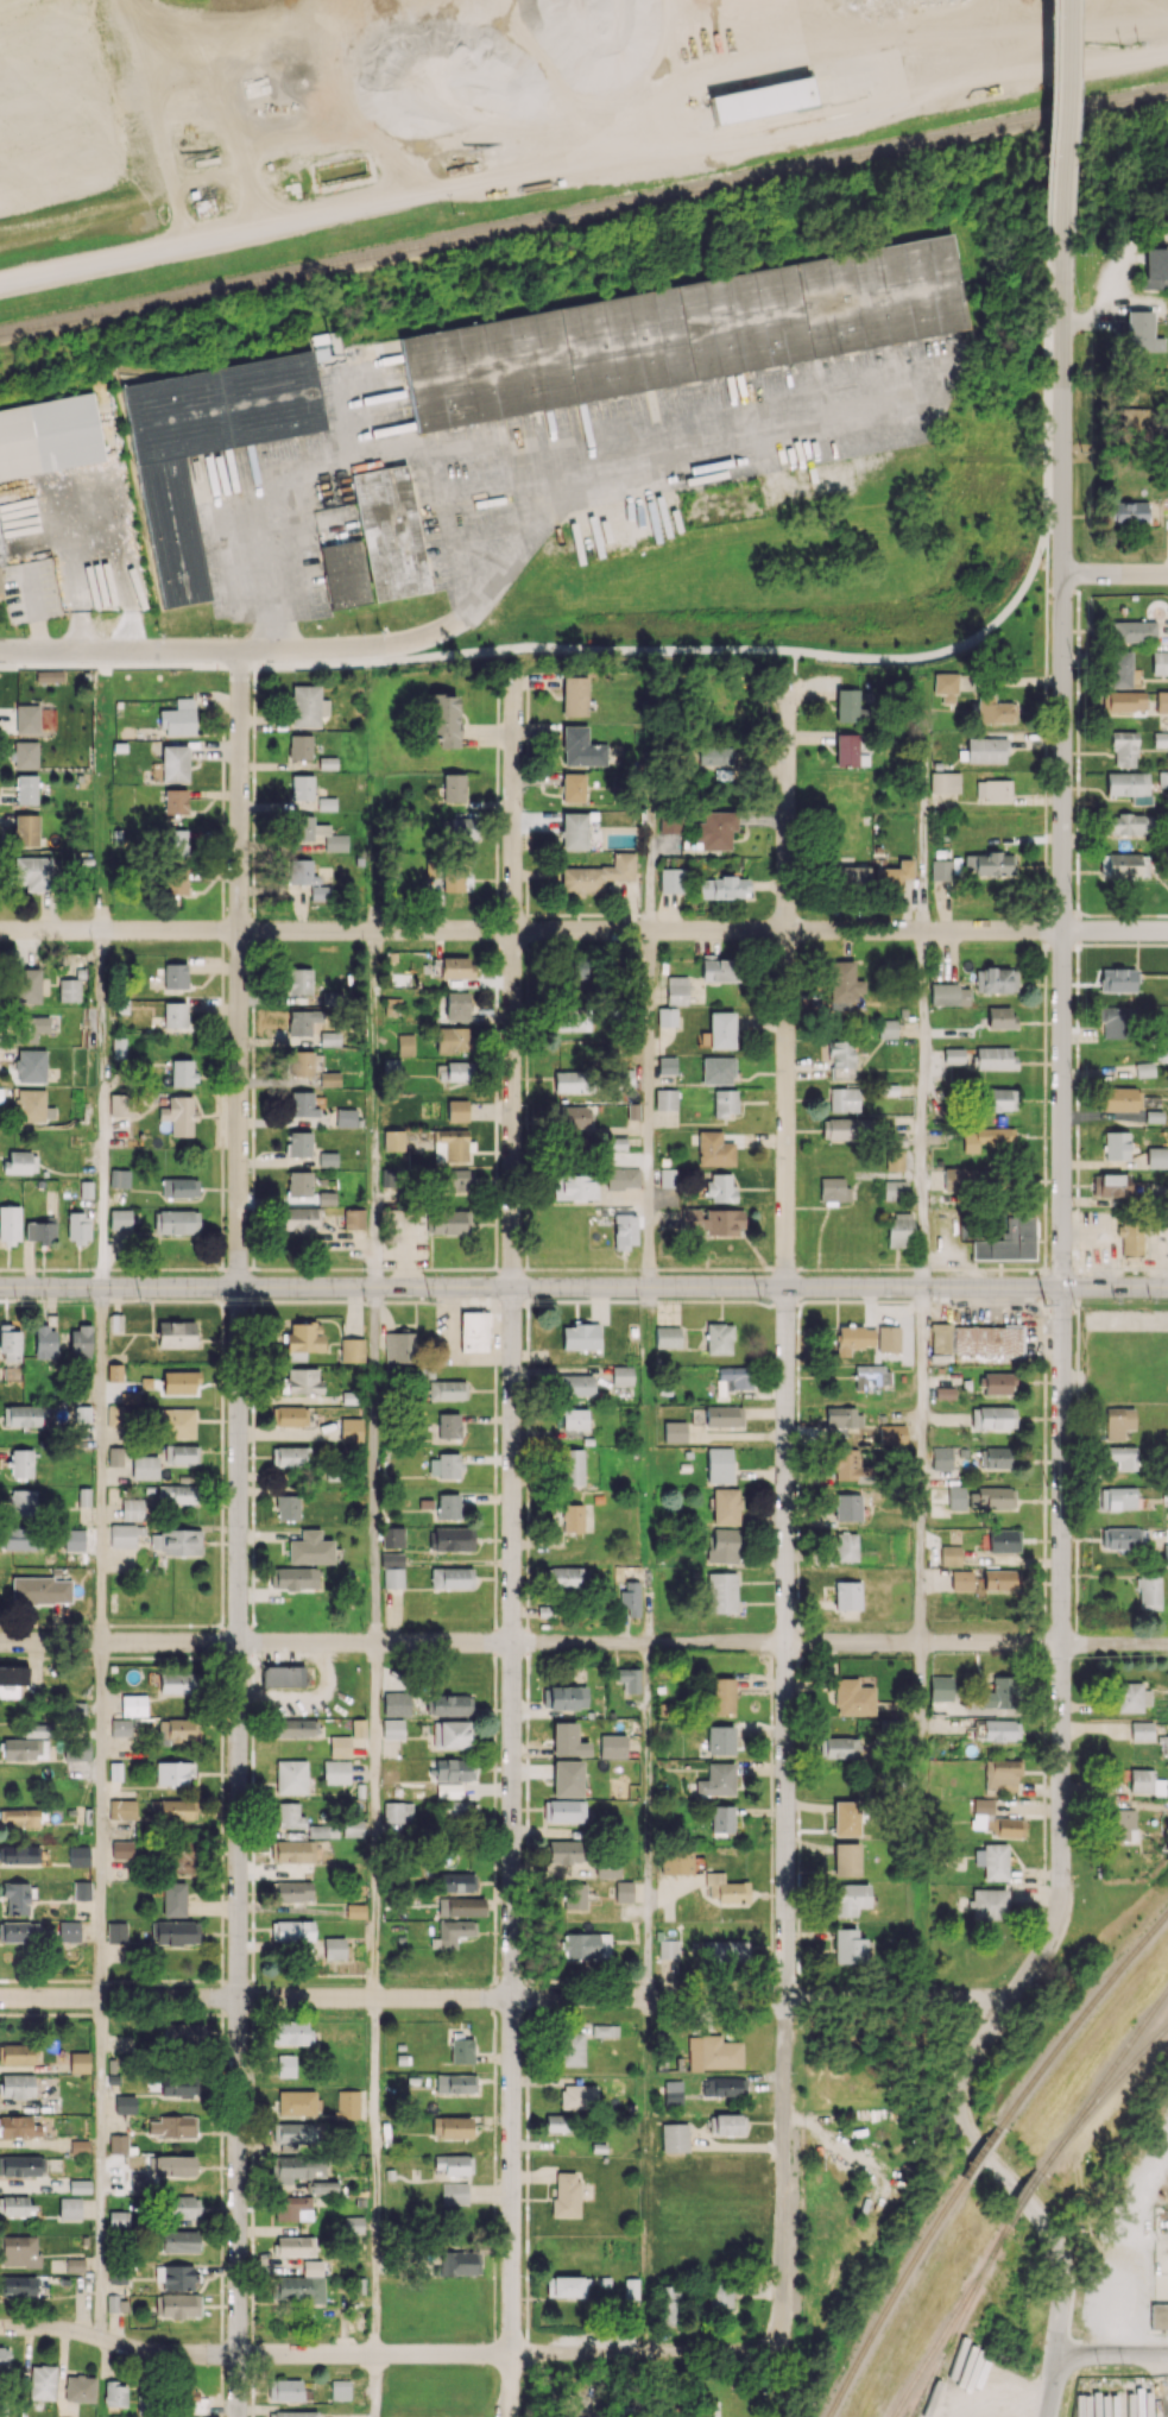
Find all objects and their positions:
building: (1160, 94)
building: (763, 100)
building: (1130, 102)
road: (1062, 119)
road: (1048, 127)
road: (585, 171)
railway: (583, 212)
building: (1155, 269)
building: (1138, 330)
building: (683, 333)
road: (1062, 406)
building: (49, 436)
building: (207, 447)
road: (651, 457)
road: (316, 462)
building: (1130, 512)
building: (377, 543)
road: (1116, 574)
building: (2, 575)
building: (1131, 631)
road: (692, 646)
road: (233, 652)
building: (1158, 662)
building: (1118, 669)
road: (794, 670)
road: (1012, 680)
building: (945, 687)
building: (574, 695)
building: (1125, 701)
building: (1161, 701)
building: (847, 705)
building: (307, 706)
building: (996, 711)
building: (178, 718)
building: (26, 719)
building: (444, 719)
road: (1044, 732)
building: (1160, 739)
building: (299, 746)
building: (581, 749)
building: (1123, 749)
building: (985, 750)
building: (848, 751)
building: (25, 755)
building: (715, 756)
building: (175, 763)
building: (328, 763)
building: (1162, 780)
building: (945, 782)
building: (1129, 785)
building: (302, 787)
building: (573, 787)
building: (454, 788)
building: (25, 789)
road: (102, 790)
building: (993, 790)
building: (175, 801)
building: (327, 803)
building: (669, 822)
road: (923, 822)
building: (1124, 823)
building: (460, 828)
building: (25, 829)
building: (715, 829)
building: (574, 831)
building: (317, 833)
building: (175, 843)
building: (989, 865)
building: (1123, 865)
building: (942, 870)
building: (32, 873)
building: (447, 875)
building: (596, 875)
building: (894, 875)
road: (649, 876)
building: (848, 877)
building: (307, 878)
building: (670, 879)
building: (175, 882)
building: (722, 888)
road: (583, 929)
road: (1062, 929)
building: (456, 967)
building: (575, 968)
building: (719, 970)
building: (175, 976)
building: (995, 979)
building: (1117, 979)
building: (299, 980)
building: (26, 985)
building: (844, 986)
building: (69, 990)
building: (676, 990)
building: (948, 995)
building: (332, 998)
building: (456, 1005)
building: (175, 1014)
building: (667, 1016)
building: (999, 1017)
building: (570, 1020)
building: (302, 1021)
building: (1112, 1021)
building: (29, 1028)
building: (886, 1028)
building: (721, 1029)
building: (329, 1039)
building: (453, 1040)
building: (405, 1043)
building: (118, 1047)
building: (1162, 1054)
building: (953, 1055)
building: (995, 1058)
building: (841, 1059)
building: (301, 1062)
building: (667, 1065)
building: (31, 1066)
building: (1143, 1066)
building: (716, 1069)
building: (182, 1072)
building: (329, 1078)
building: (624, 1078)
building: (568, 1081)
building: (665, 1099)
building: (844, 1099)
building: (998, 1099)
building: (1122, 1099)
building: (724, 1102)
building: (118, 1104)
building: (302, 1104)
building: (30, 1105)
road: (650, 1107)
road: (102, 1109)
road: (375, 1109)
road: (923, 1109)
building: (456, 1110)
building: (178, 1115)
building: (574, 1116)
building: (346, 1117)
building: (842, 1129)
building: (987, 1138)
building: (393, 1140)
building: (298, 1143)
building: (1116, 1144)
building: (450, 1146)
building: (713, 1149)
building: (1156, 1157)
building: (328, 1159)
building: (895, 1160)
building: (20, 1162)
building: (119, 1178)
building: (623, 1178)
building: (667, 1178)
building: (953, 1179)
building: (456, 1180)
building: (298, 1182)
building: (1111, 1185)
building: (576, 1186)
building: (178, 1187)
building: (720, 1187)
building: (86, 1188)
building: (833, 1189)
building: (894, 1189)
building: (327, 1198)
building: (353, 1218)
building: (120, 1219)
building: (299, 1219)
building: (509, 1219)
building: (713, 1220)
building: (175, 1222)
building: (449, 1222)
building: (10, 1224)
building: (77, 1228)
building: (898, 1230)
building: (38, 1231)
building: (625, 1231)
building: (1130, 1239)
building: (1008, 1241)
road: (583, 1287)
power tower: (1046, 1304)
building: (473, 1331)
building: (177, 1333)
building: (304, 1337)
building: (580, 1337)
building: (667, 1337)
building: (854, 1337)
building: (718, 1338)
building: (888, 1338)
building: (978, 1339)
building: (80, 1342)
building: (8, 1343)
building: (44, 1343)
road: (785, 1344)
building: (399, 1346)
building: (352, 1350)
building: (114, 1372)
building: (621, 1375)
building: (870, 1375)
building: (735, 1376)
building: (179, 1382)
building: (302, 1382)
building: (998, 1383)
building: (576, 1384)
building: (447, 1389)
building: (945, 1393)
building: (82, 1413)
building: (115, 1414)
building: (21, 1415)
building: (285, 1415)
building: (722, 1415)
building: (841, 1416)
building: (992, 1416)
building: (574, 1419)
building: (176, 1422)
building: (448, 1425)
building: (674, 1431)
building: (891, 1433)
building: (181, 1453)
building: (114, 1456)
building: (290, 1456)
building: (941, 1456)
building: (995, 1457)
building: (1122, 1457)
building: (21, 1463)
road: (102, 1464)
road: (375, 1464)
building: (847, 1464)
road: (921, 1464)
building: (444, 1465)
road: (650, 1465)
building: (719, 1465)
building: (572, 1466)
building: (144, 1468)
building: (176, 1494)
building: (1167, 1494)
building: (995, 1496)
building: (955, 1497)
building: (1119, 1497)
building: (23, 1502)
building: (448, 1506)
building: (726, 1506)
building: (286, 1507)
building: (847, 1507)
building: (132, 1508)
building: (572, 1517)
building: (124, 1534)
road: (238, 1534)
building: (392, 1536)
building: (20, 1538)
building: (450, 1538)
building: (1123, 1538)
building: (74, 1539)
building: (1004, 1540)
building: (176, 1541)
road: (512, 1544)
building: (724, 1546)
building: (846, 1547)
building: (310, 1548)
building: (949, 1554)
building: (1164, 1554)
building: (392, 1570)
building: (567, 1577)
building: (296, 1578)
building: (450, 1578)
building: (1002, 1579)
building: (961, 1580)
building: (44, 1590)
building: (721, 1592)
building: (1148, 1592)
building: (847, 1595)
building: (630, 1597)
road: (583, 1643)
building: (283, 1676)
building: (629, 1679)
building: (12, 1680)
building: (176, 1684)
building: (997, 1691)
building: (940, 1693)
building: (721, 1696)
building: (567, 1697)
building: (853, 1697)
building: (1131, 1697)
building: (396, 1703)
building: (133, 1704)
building: (452, 1704)
building: (75, 1709)
building: (120, 1727)
building: (293, 1728)
building: (36, 1729)
building: (392, 1729)
building: (1000, 1729)
building: (1142, 1730)
building: (178, 1731)
building: (450, 1735)
building: (567, 1740)
building: (720, 1740)
building: (349, 1742)
building: (1163, 1744)
building: (612, 1746)
building: (841, 1747)
building: (24, 1749)
building: (76, 1750)
building: (454, 1769)
building: (336, 1772)
building: (173, 1773)
building: (1002, 1775)
building: (291, 1777)
building: (567, 1778)
building: (718, 1780)
building: (1145, 1781)
building: (447, 1791)
building: (121, 1809)
building: (456, 1809)
building: (177, 1810)
building: (566, 1810)
building: (393, 1811)
building: (289, 1816)
building: (19, 1818)
building: (721, 1818)
building: (846, 1818)
road: (103, 1819)
road: (374, 1819)
road: (920, 1819)
road: (651, 1820)
building: (1122, 1824)
building: (353, 1828)
building: (1009, 1828)
building: (322, 1830)
building: (121, 1849)
building: (293, 1850)
building: (564, 1851)
building: (19, 1854)
building: (78, 1856)
building: (179, 1856)
building: (846, 1858)
building: (993, 1861)
building: (676, 1862)
building: (607, 1869)
road: (1034, 1875)
building: (456, 1881)
road: (1060, 1882)
building: (726, 1888)
building: (81, 1889)
building: (292, 1891)
building: (624, 1891)
building: (574, 1895)
building: (15, 1897)
building: (850, 1898)
building: (173, 1899)
building: (989, 1904)
building: (460, 1906)
building: (355, 1911)
building: (19, 1931)
building: (68, 1931)
building: (291, 1931)
building: (116, 1932)
building: (176, 1932)
building: (452, 1932)
building: (586, 1945)
building: (851, 1946)
building: (334, 1948)
building: (668, 1948)
building: (727, 1952)
building: (668, 1974)
road: (896, 1996)
road: (392, 1998)
railway: (1080, 2015)
building: (605, 2030)
building: (290, 2032)
building: (181, 2036)
building: (572, 2049)
building: (461, 2050)
building: (713, 2052)
building: (17, 2053)
building: (78, 2062)
building: (285, 2065)
railway: (1104, 2077)
building: (455, 2083)
building: (178, 2084)
building: (17, 2085)
building: (722, 2087)
railway: (1104, 2091)
building: (577, 2096)
building: (52, 2103)
building: (296, 2103)
building: (125, 2104)
building: (347, 2104)
building: (556, 2122)
building: (728, 2125)
building: (18, 2126)
building: (173, 2126)
building: (452, 2126)
building: (290, 2135)
building: (674, 2137)
railway: (980, 2151)
building: (452, 2164)
building: (21, 2165)
building: (171, 2165)
road: (782, 2166)
road: (100, 2167)
building: (295, 2167)
road: (649, 2175)
road: (374, 2176)
road: (1081, 2181)
building: (80, 2185)
building: (323, 2186)
building: (454, 2192)
building: (566, 2194)
railway: (1022, 2195)
building: (14, 2205)
building: (290, 2205)
building: (69, 2207)
building: (183, 2207)
building: (353, 2224)
building: (179, 2241)
building: (295, 2246)
building: (19, 2251)
building: (459, 2263)
building: (74, 2265)
building: (311, 2267)
building: (176, 2277)
building: (18, 2286)
building: (566, 2286)
building: (630, 2287)
building: (299, 2289)
railway: (974, 2291)
building: (720, 2293)
railway: (894, 2296)
building: (113, 2303)
building: (665, 2304)
building: (178, 2305)
building: (1158, 2316)
railway: (951, 2320)
road: (648, 2352)
road: (1110, 2353)
road: (254, 2354)
building: (4, 2358)
building: (42, 2381)
road: (1162, 2384)
road: (374, 2385)
building: (78, 2388)
building: (284, 2390)
building: (340, 2390)
railway: (924, 2393)
railway: (927, 2393)
building: (114, 2394)
building: (187, 2396)
building: (292, 2413)

